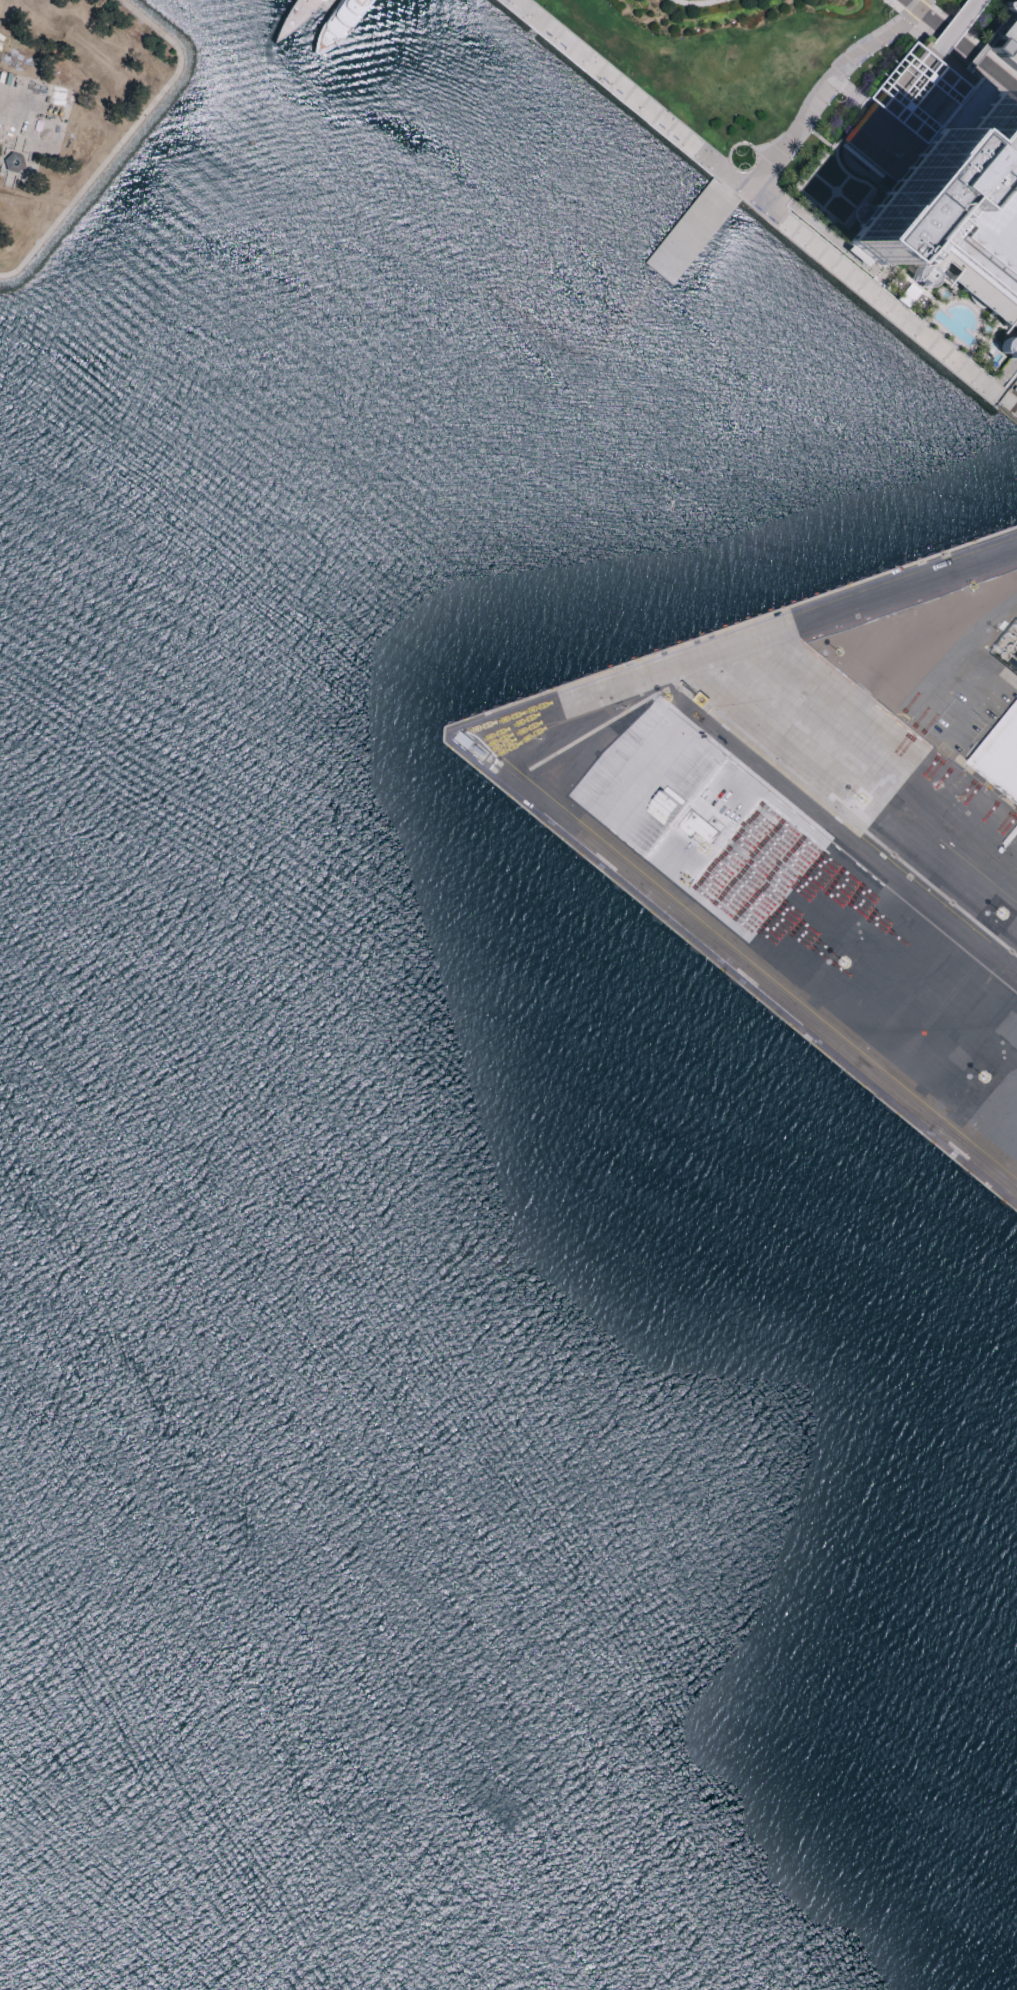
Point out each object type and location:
road: (698, 1)
road: (1, 3)
pier: (326, 4)
road: (958, 25)
road: (971, 38)
building: (1006, 41)
parking lot: (1006, 41)
road: (986, 44)
road: (961, 47)
road: (950, 54)
road: (958, 74)
road: (828, 87)
road: (849, 92)
road: (630, 96)
park: (69, 107)
building: (913, 108)
park: (33, 116)
road: (893, 139)
road: (123, 141)
road: (823, 155)
fountain: (743, 160)
building: (11, 164)
pier: (692, 230)
building: (950, 234)
road: (872, 294)
building: (1000, 755)
road: (520, 778)
road: (862, 782)
railway: (992, 796)
railway: (989, 804)
railway: (851, 836)
railway: (849, 843)
railway: (749, 967)
railway: (747, 975)

